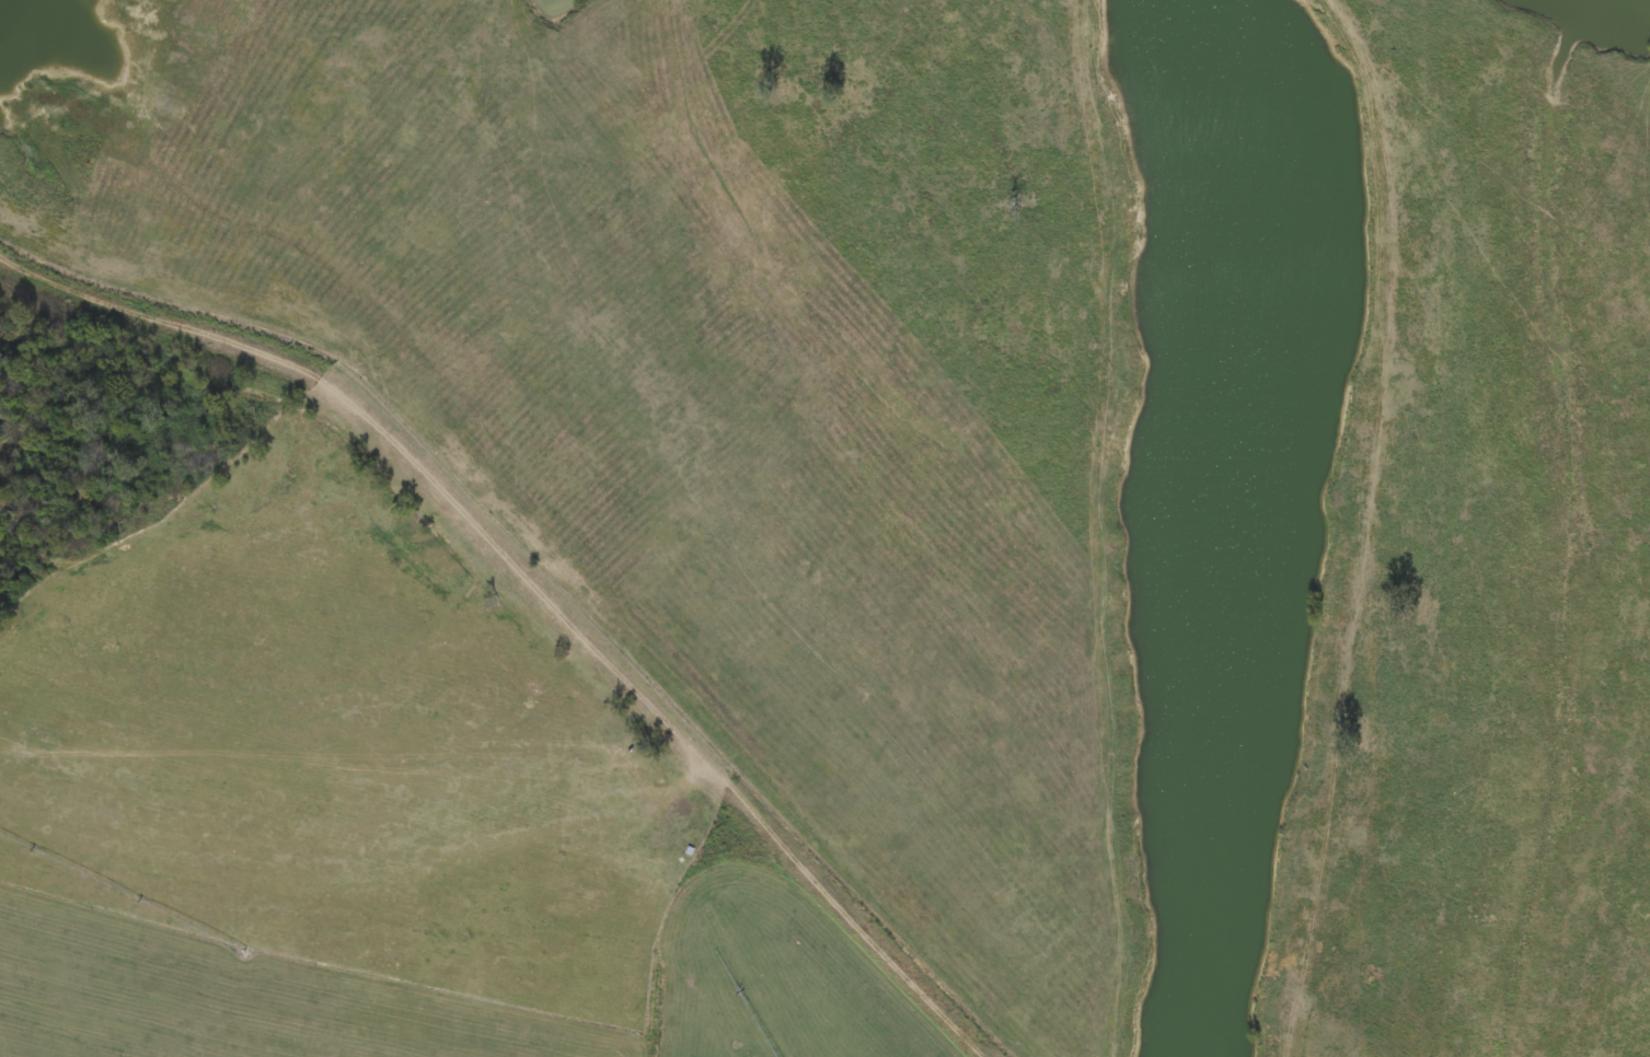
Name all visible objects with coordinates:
road: (526, 602)

